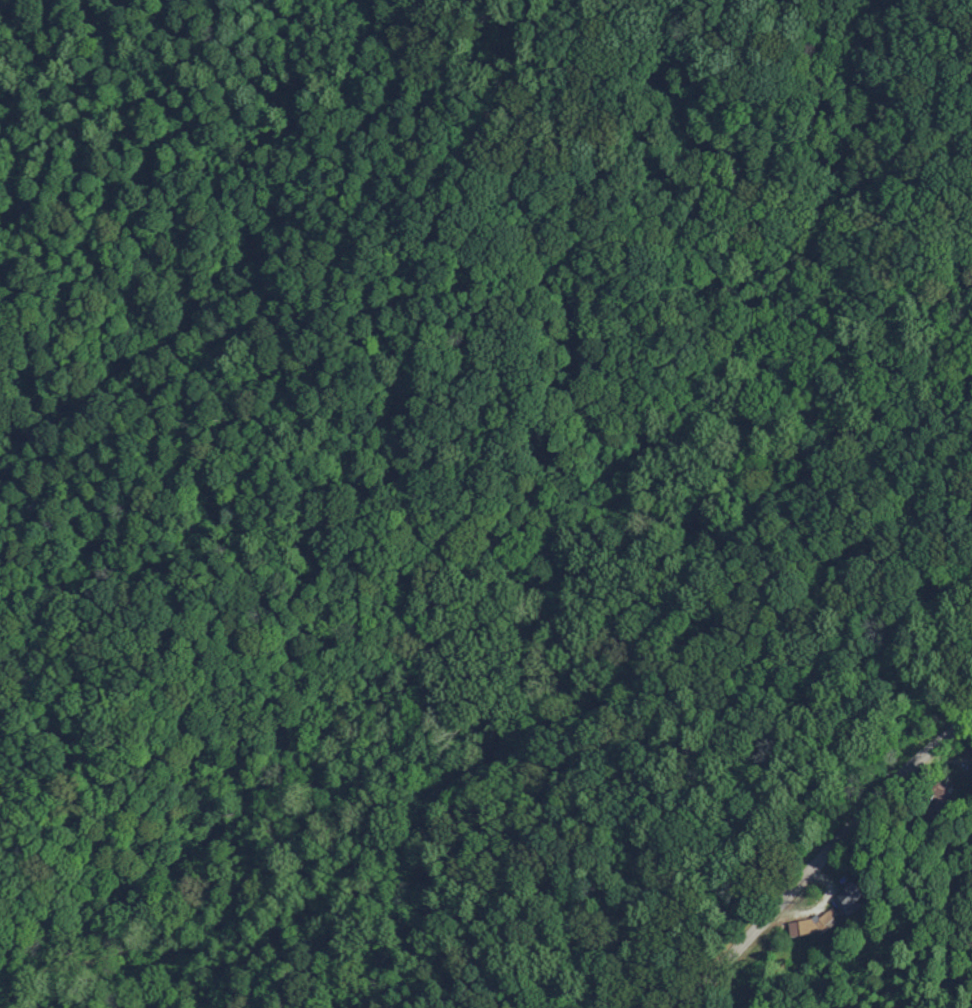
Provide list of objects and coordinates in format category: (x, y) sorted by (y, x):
road: (820, 852)
building: (852, 893)
building: (814, 925)

